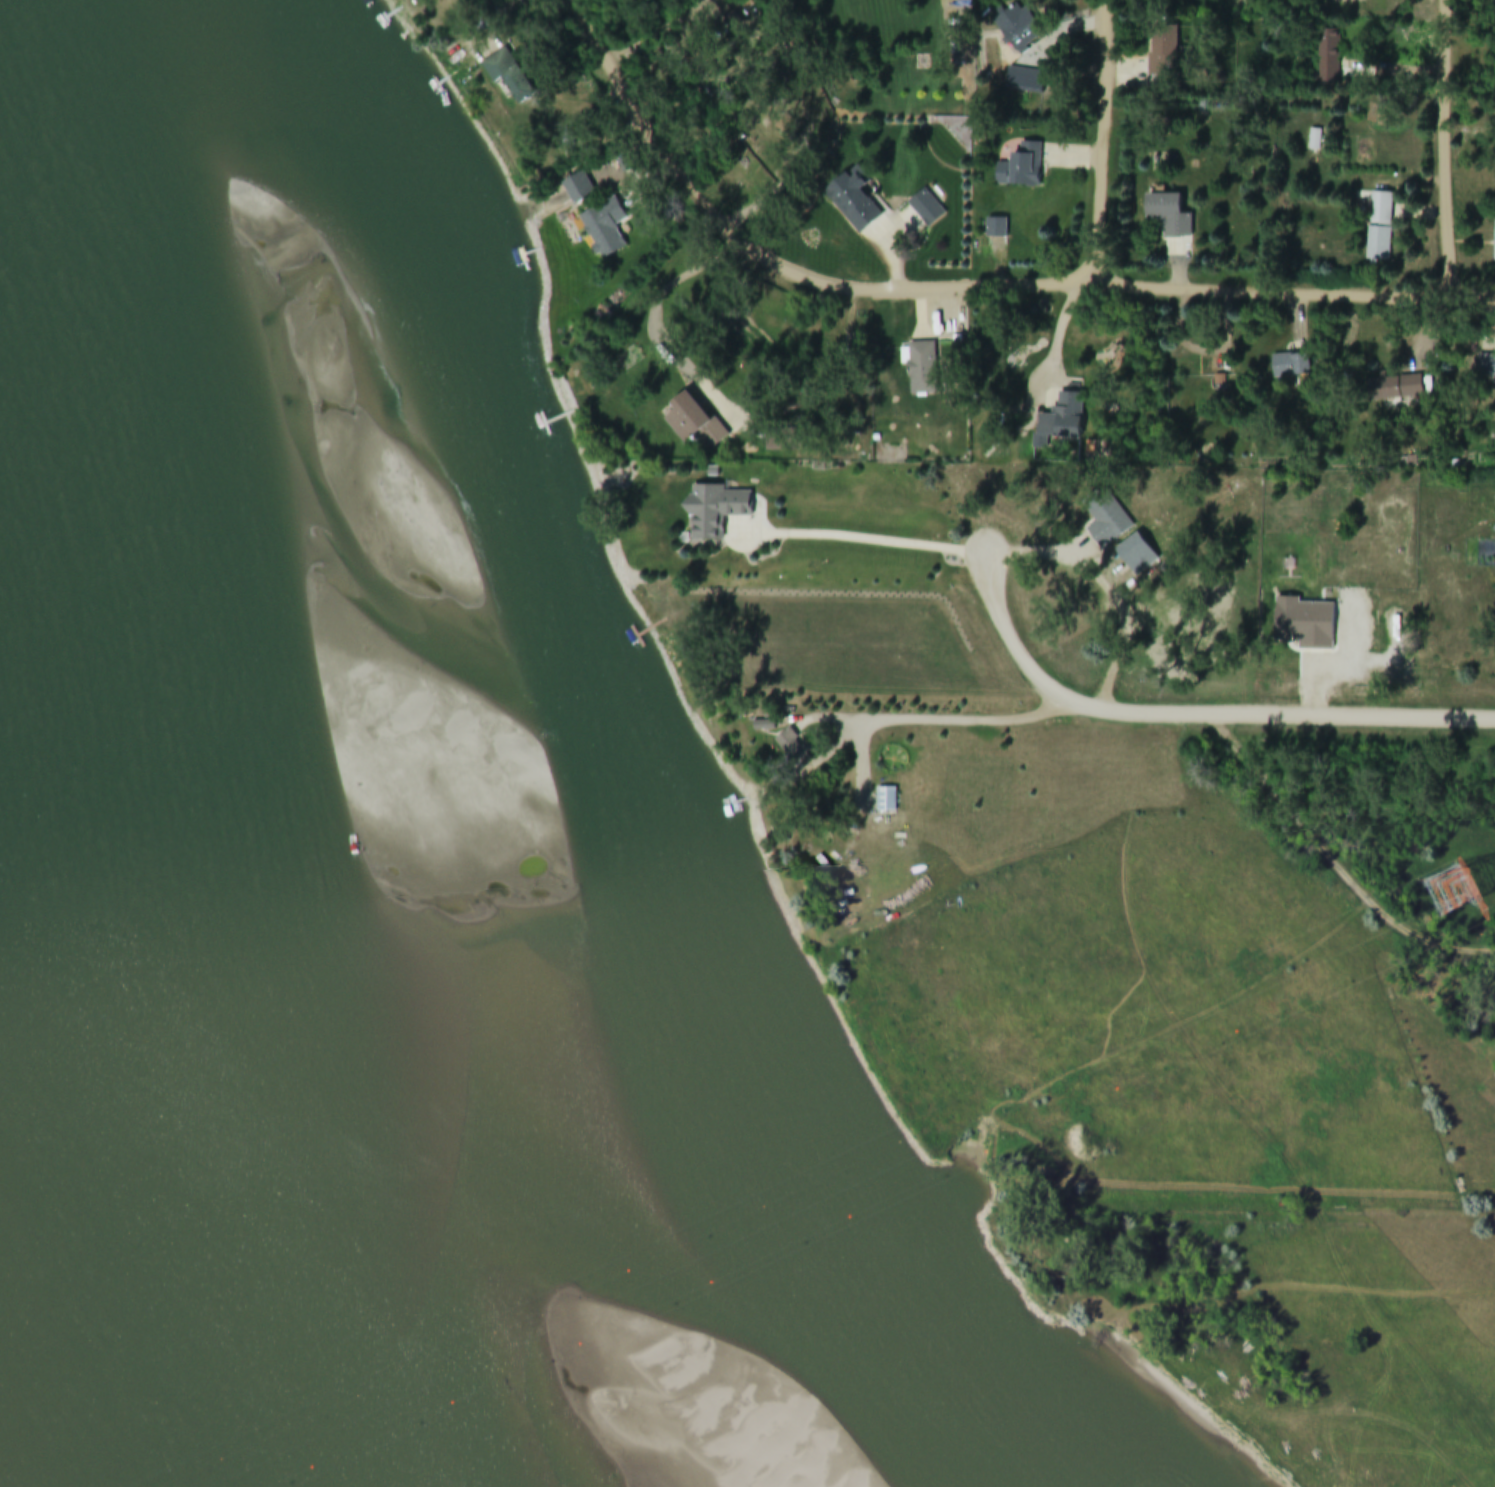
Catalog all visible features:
building: (1010, 27)
building: (1162, 53)
building: (1333, 59)
building: (1024, 82)
building: (1314, 144)
road: (1104, 145)
road: (1446, 149)
building: (1021, 169)
building: (853, 202)
building: (925, 210)
building: (1174, 215)
building: (1383, 227)
building: (999, 228)
building: (605, 230)
road: (964, 290)
road: (1061, 336)
building: (913, 354)
building: (1292, 366)
building: (1488, 366)
building: (1410, 386)
building: (1075, 415)
building: (700, 423)
building: (788, 440)
building: (719, 510)
road: (1115, 531)
building: (767, 726)
road: (1226, 742)
building: (797, 750)
building: (889, 799)
power tower: (1446, 892)
river: (348, 1029)

